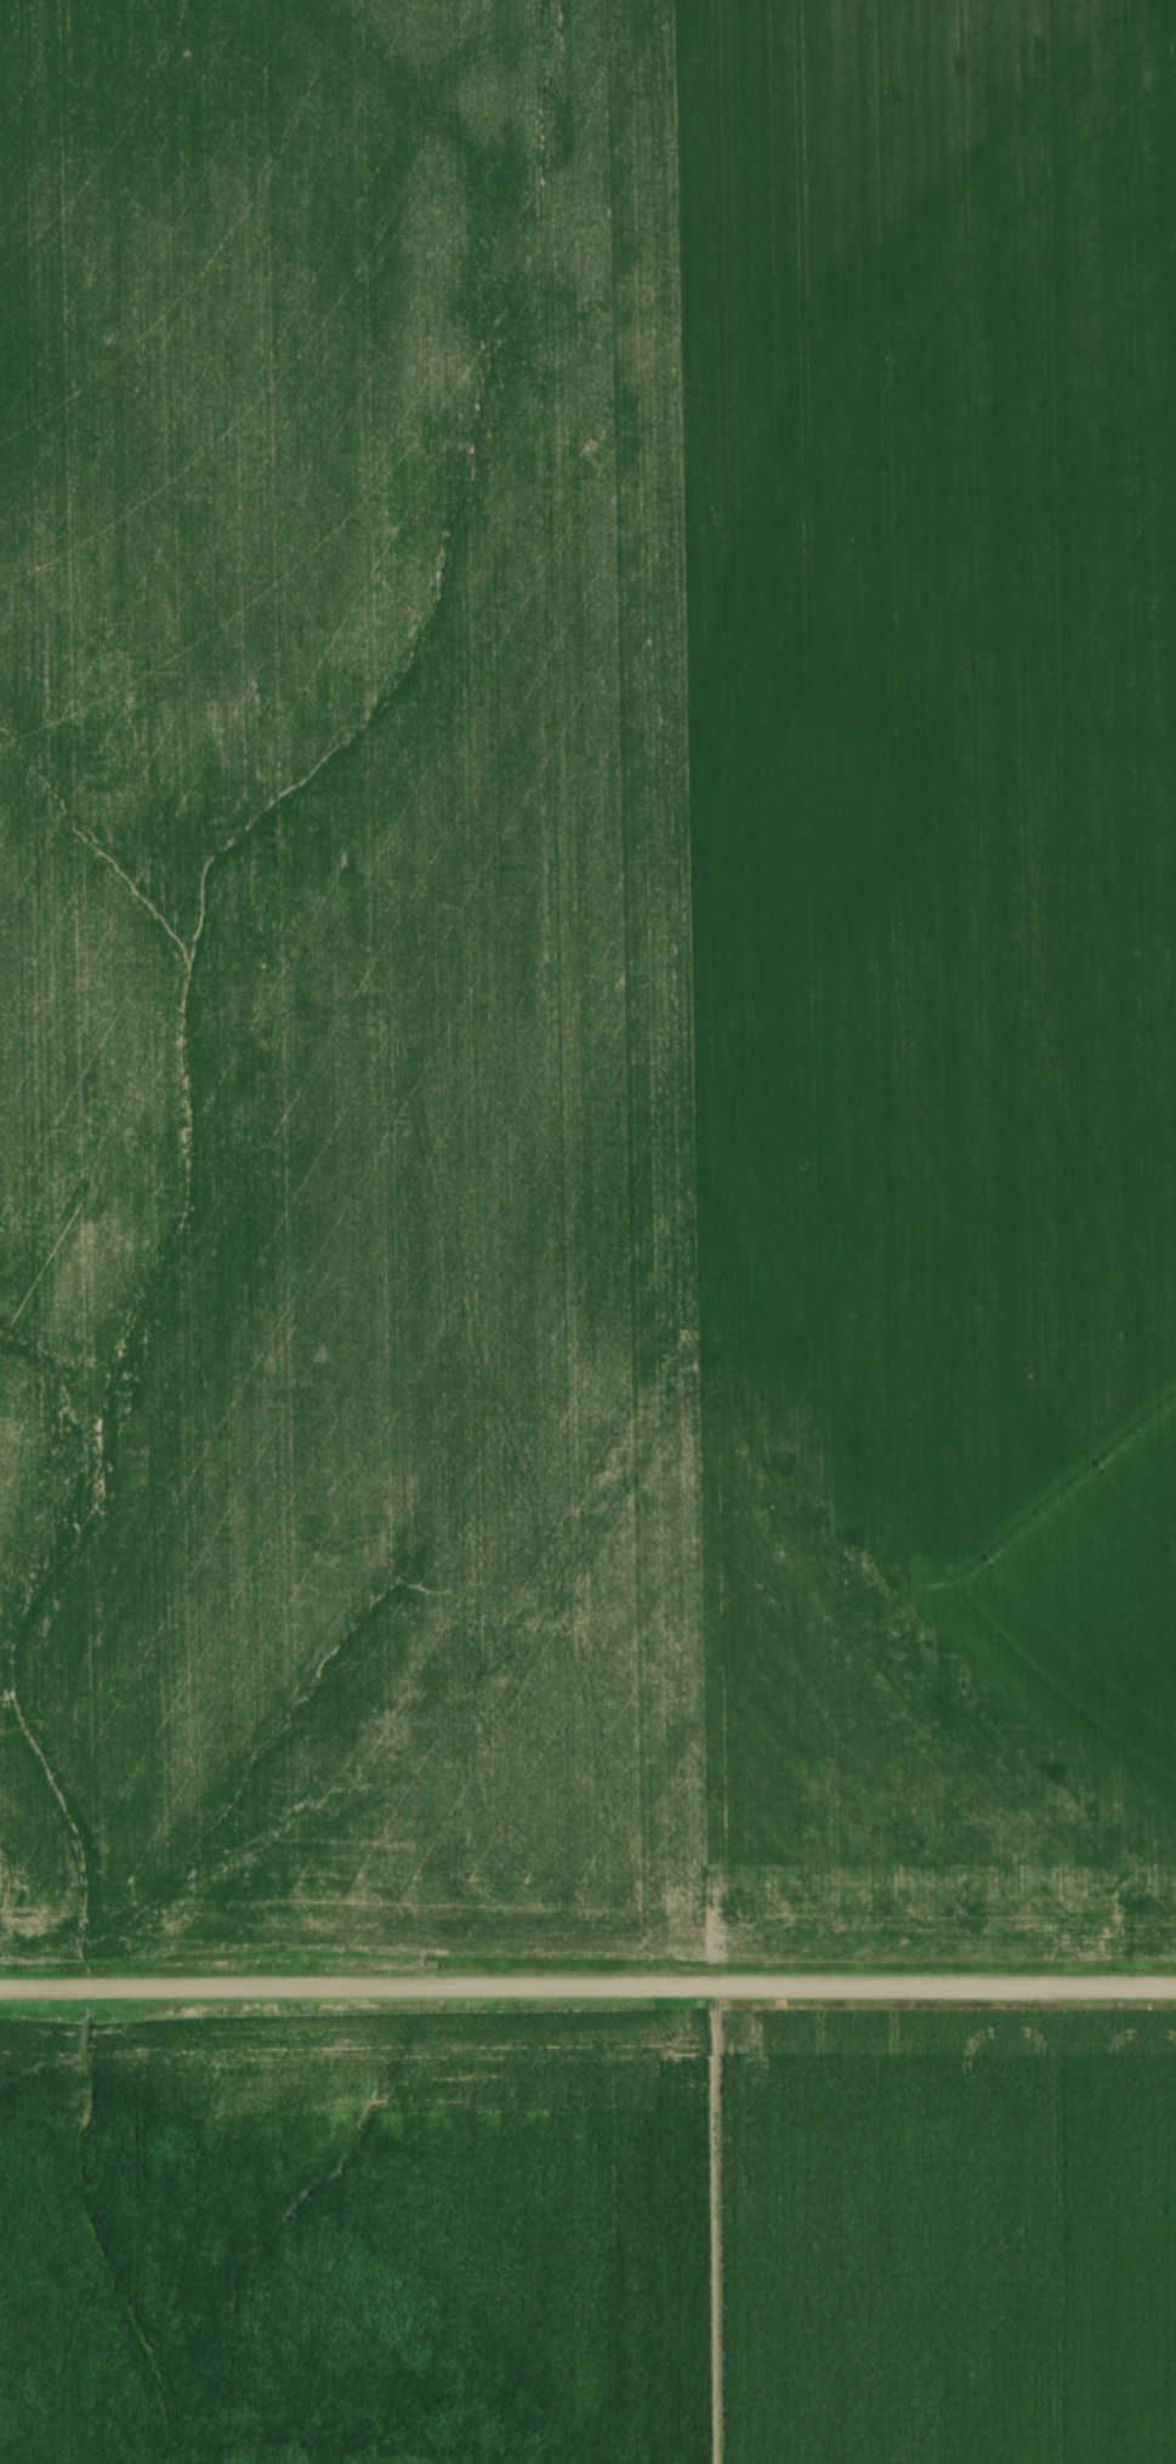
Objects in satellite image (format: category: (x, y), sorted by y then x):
road: (587, 1991)

